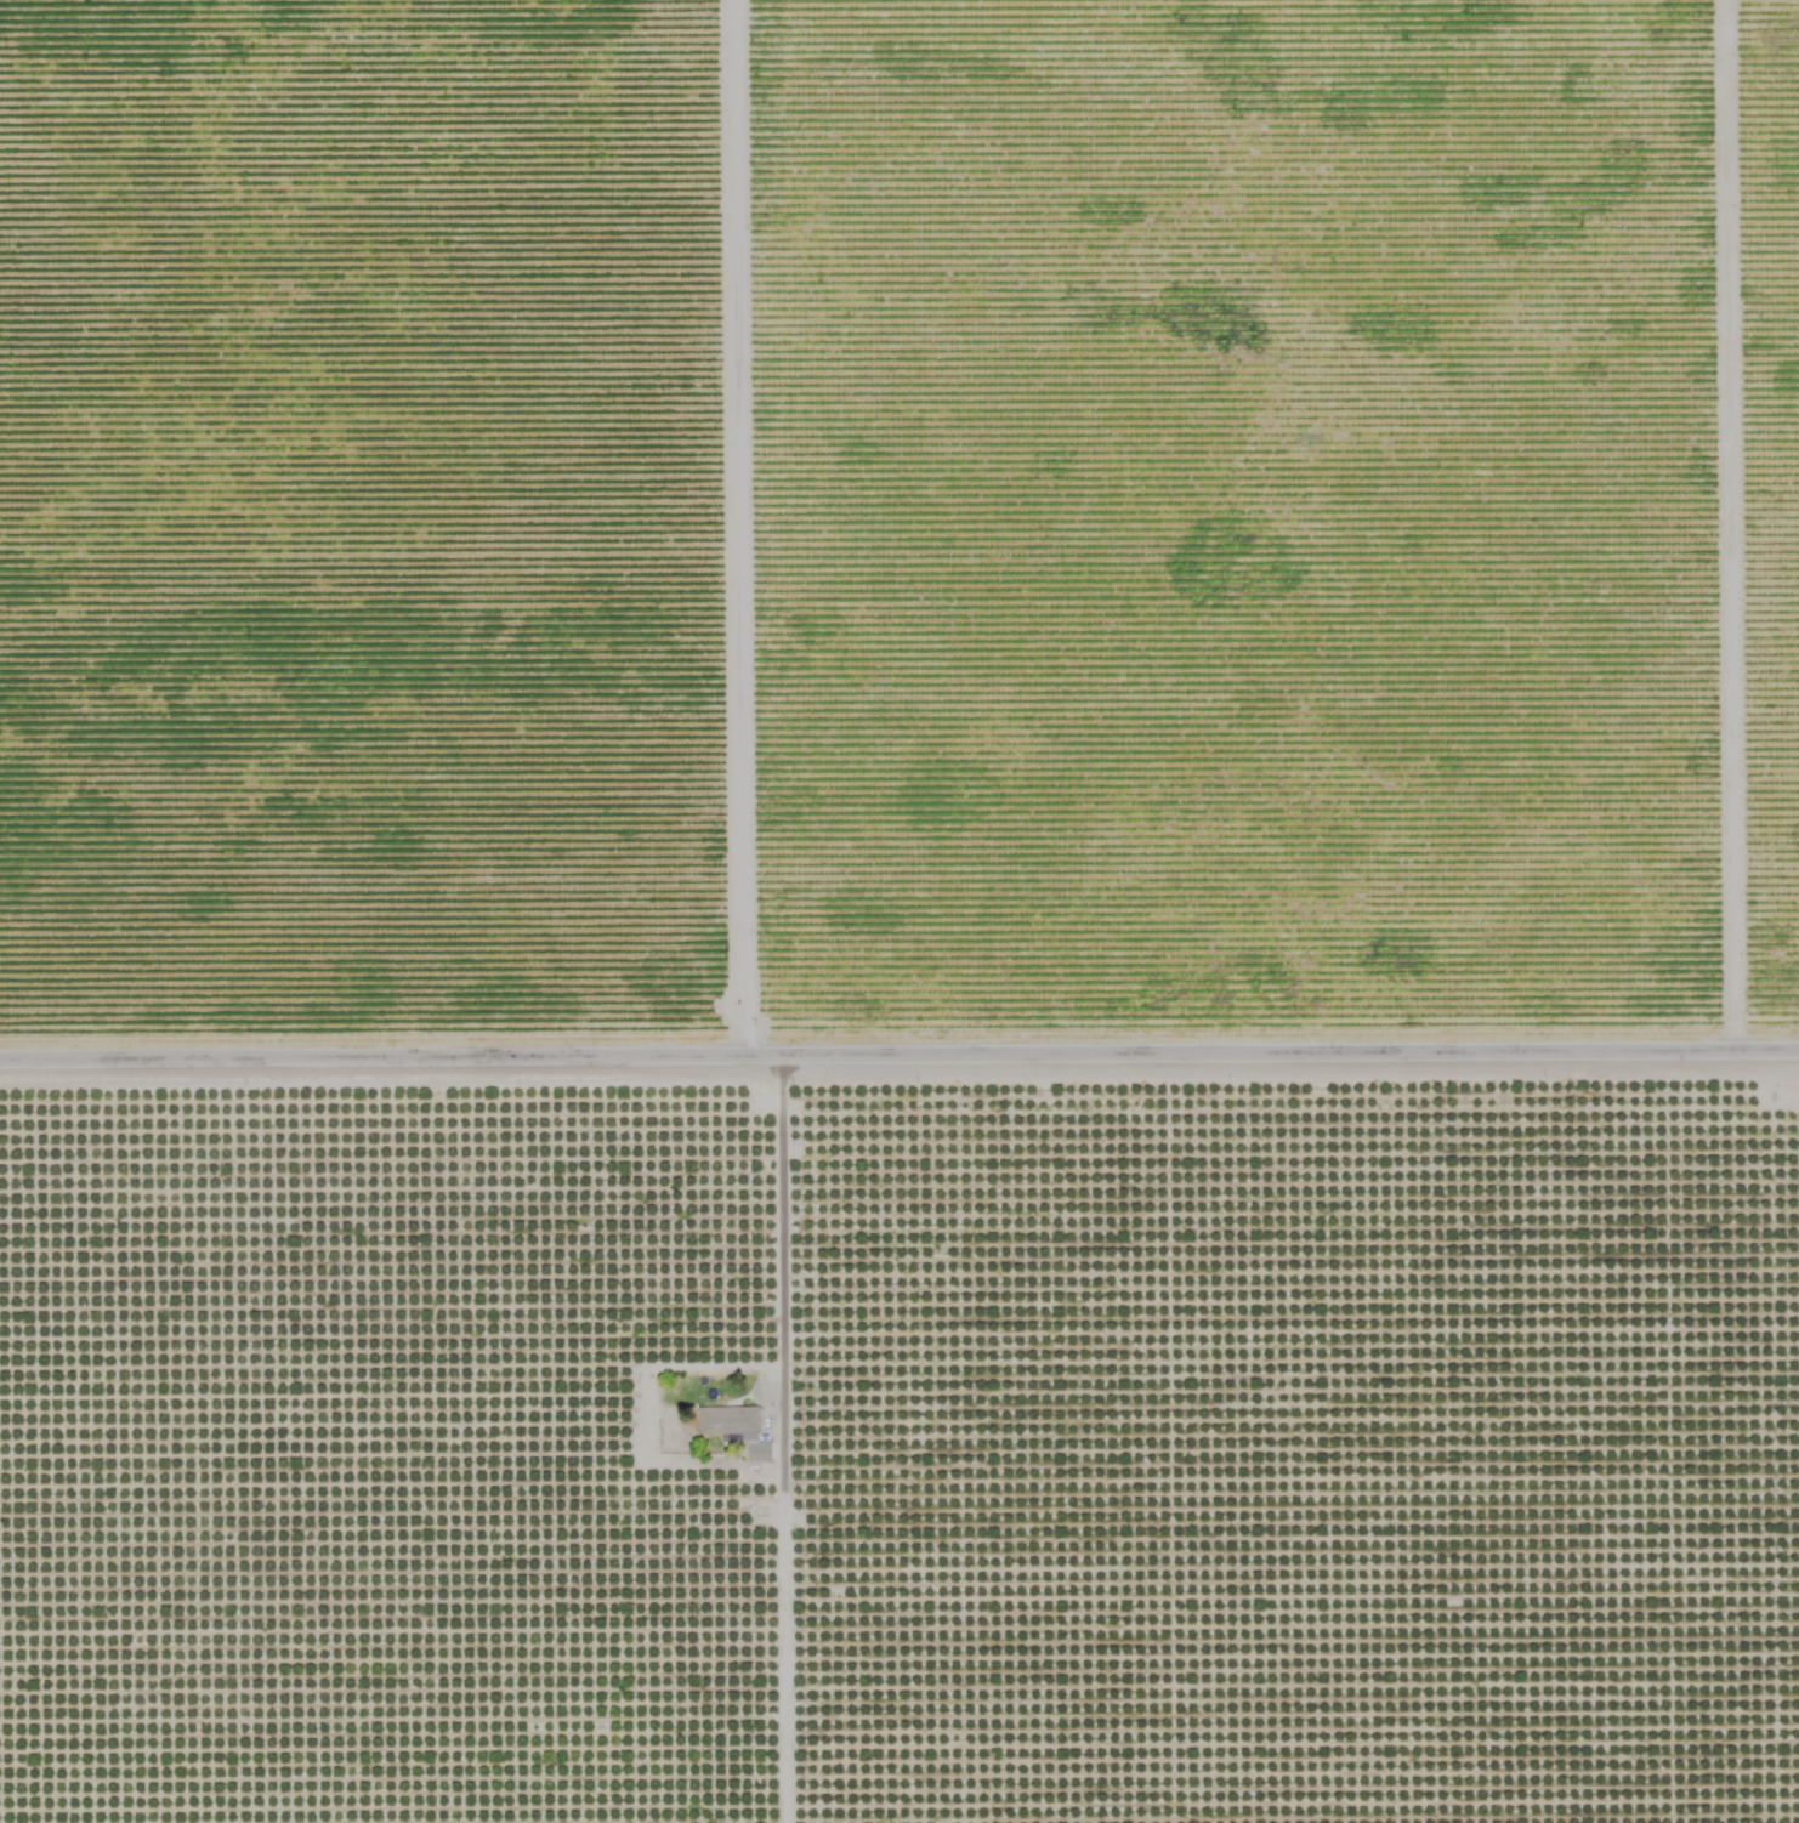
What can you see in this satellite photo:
road: (898, 1054)
road: (777, 1277)
road: (779, 1662)

